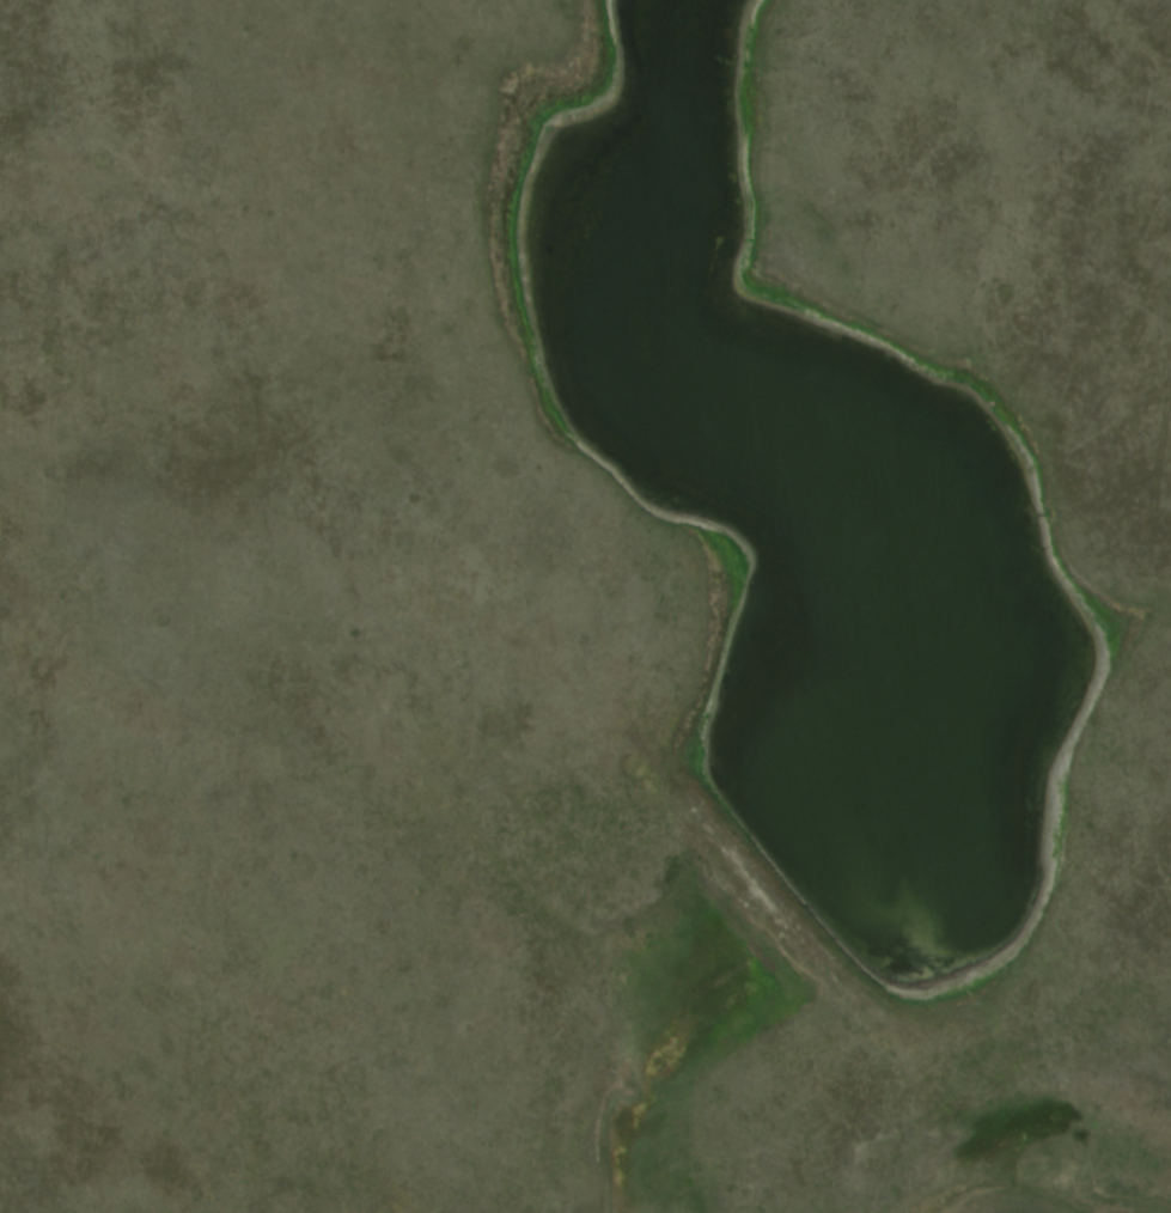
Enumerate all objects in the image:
dam: (756, 870)

